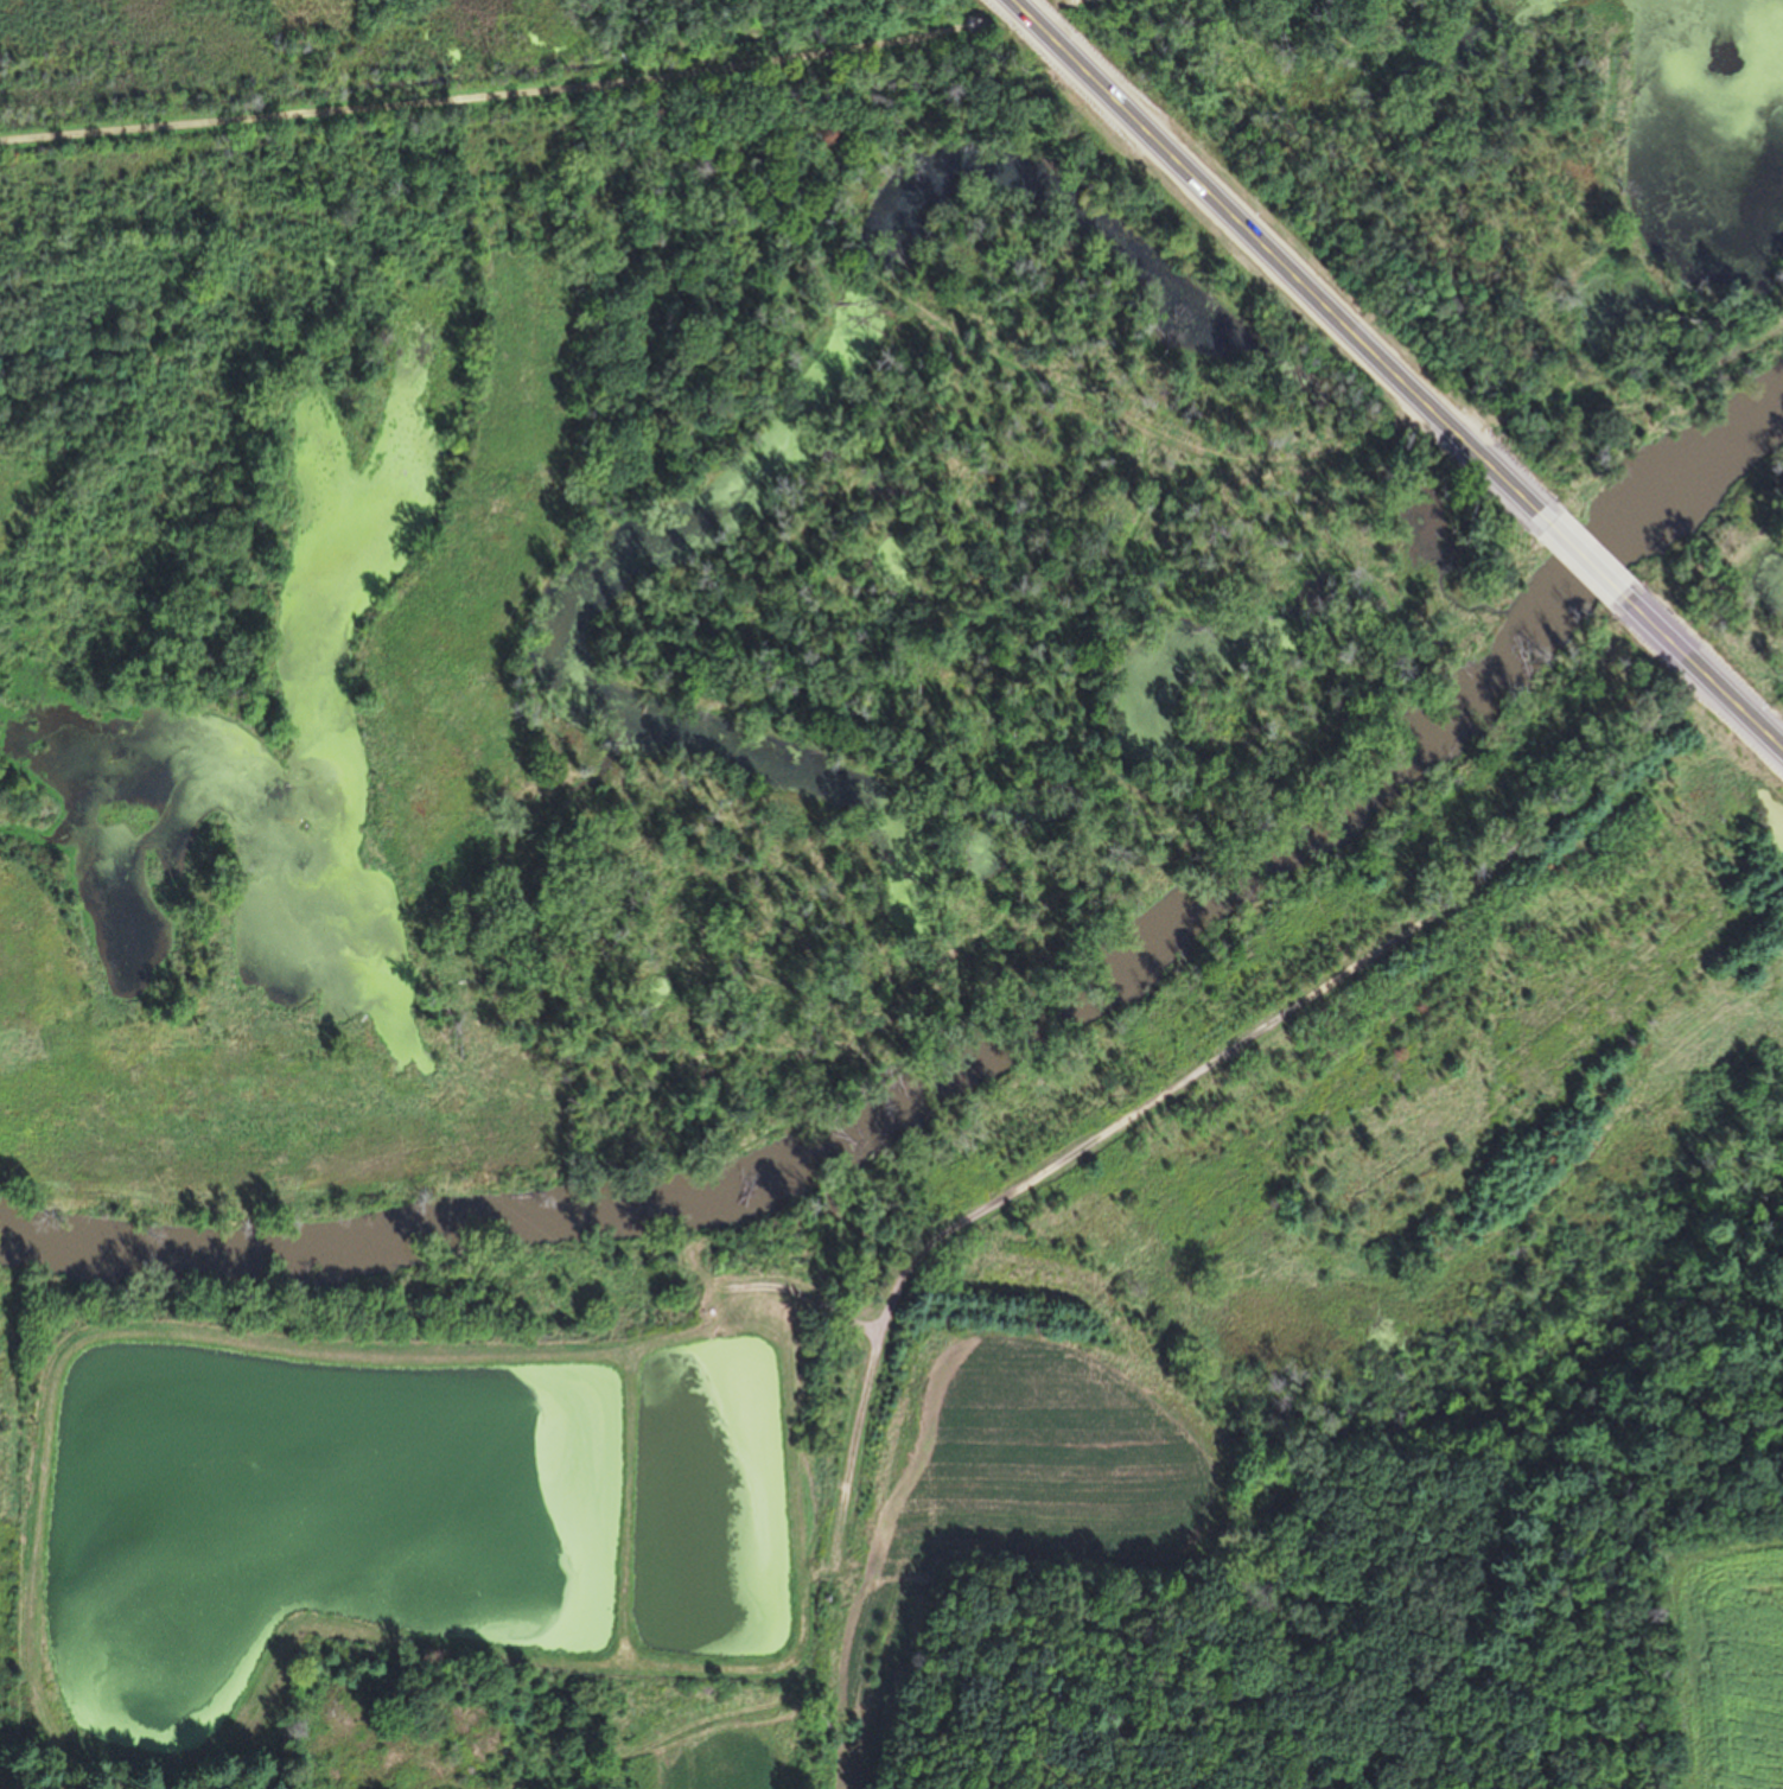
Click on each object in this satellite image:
road: (1069, 2)
road: (496, 94)
road: (1281, 262)
road: (1585, 559)
road: (1700, 671)
river: (996, 1057)
road: (1123, 1126)

